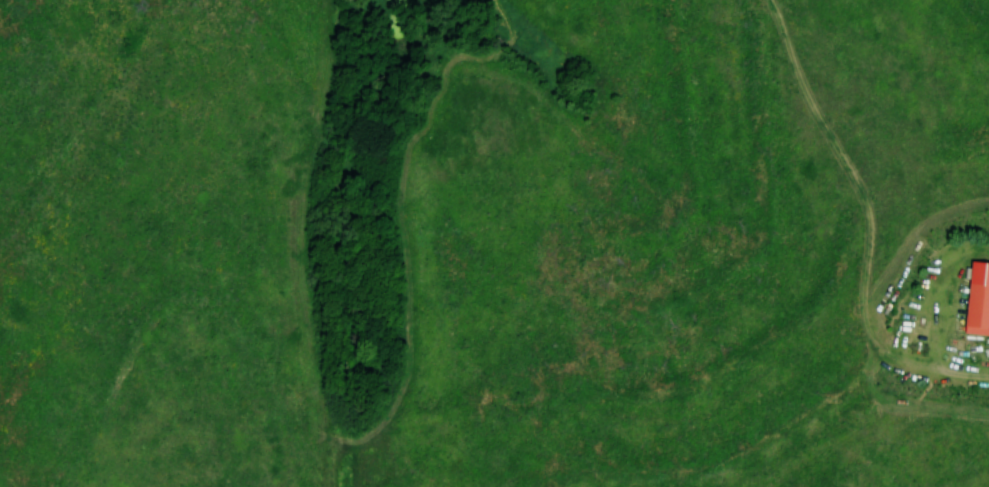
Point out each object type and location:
building: (977, 299)

